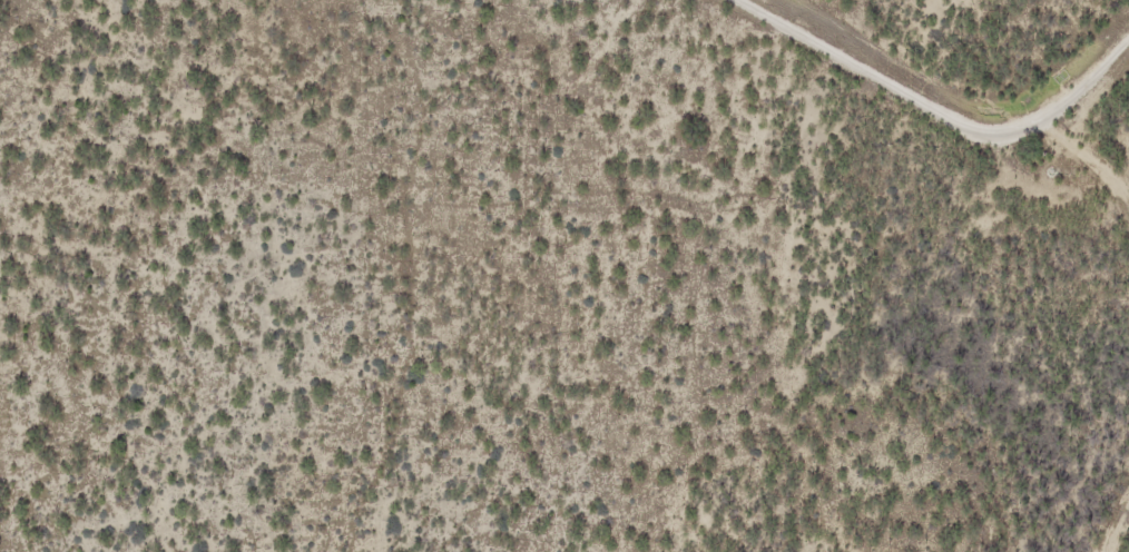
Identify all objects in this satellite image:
road: (936, 114)

